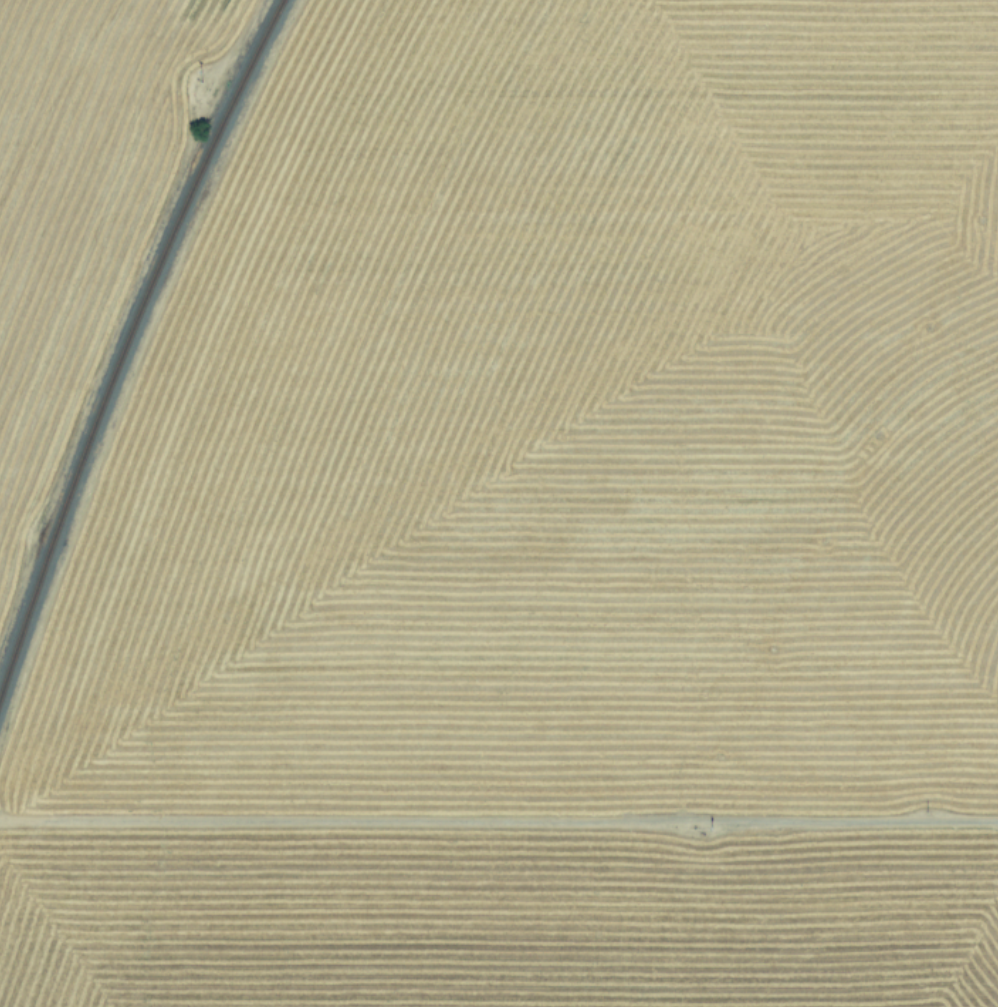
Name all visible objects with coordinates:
railway: (121, 336)
crop: (499, 503)

